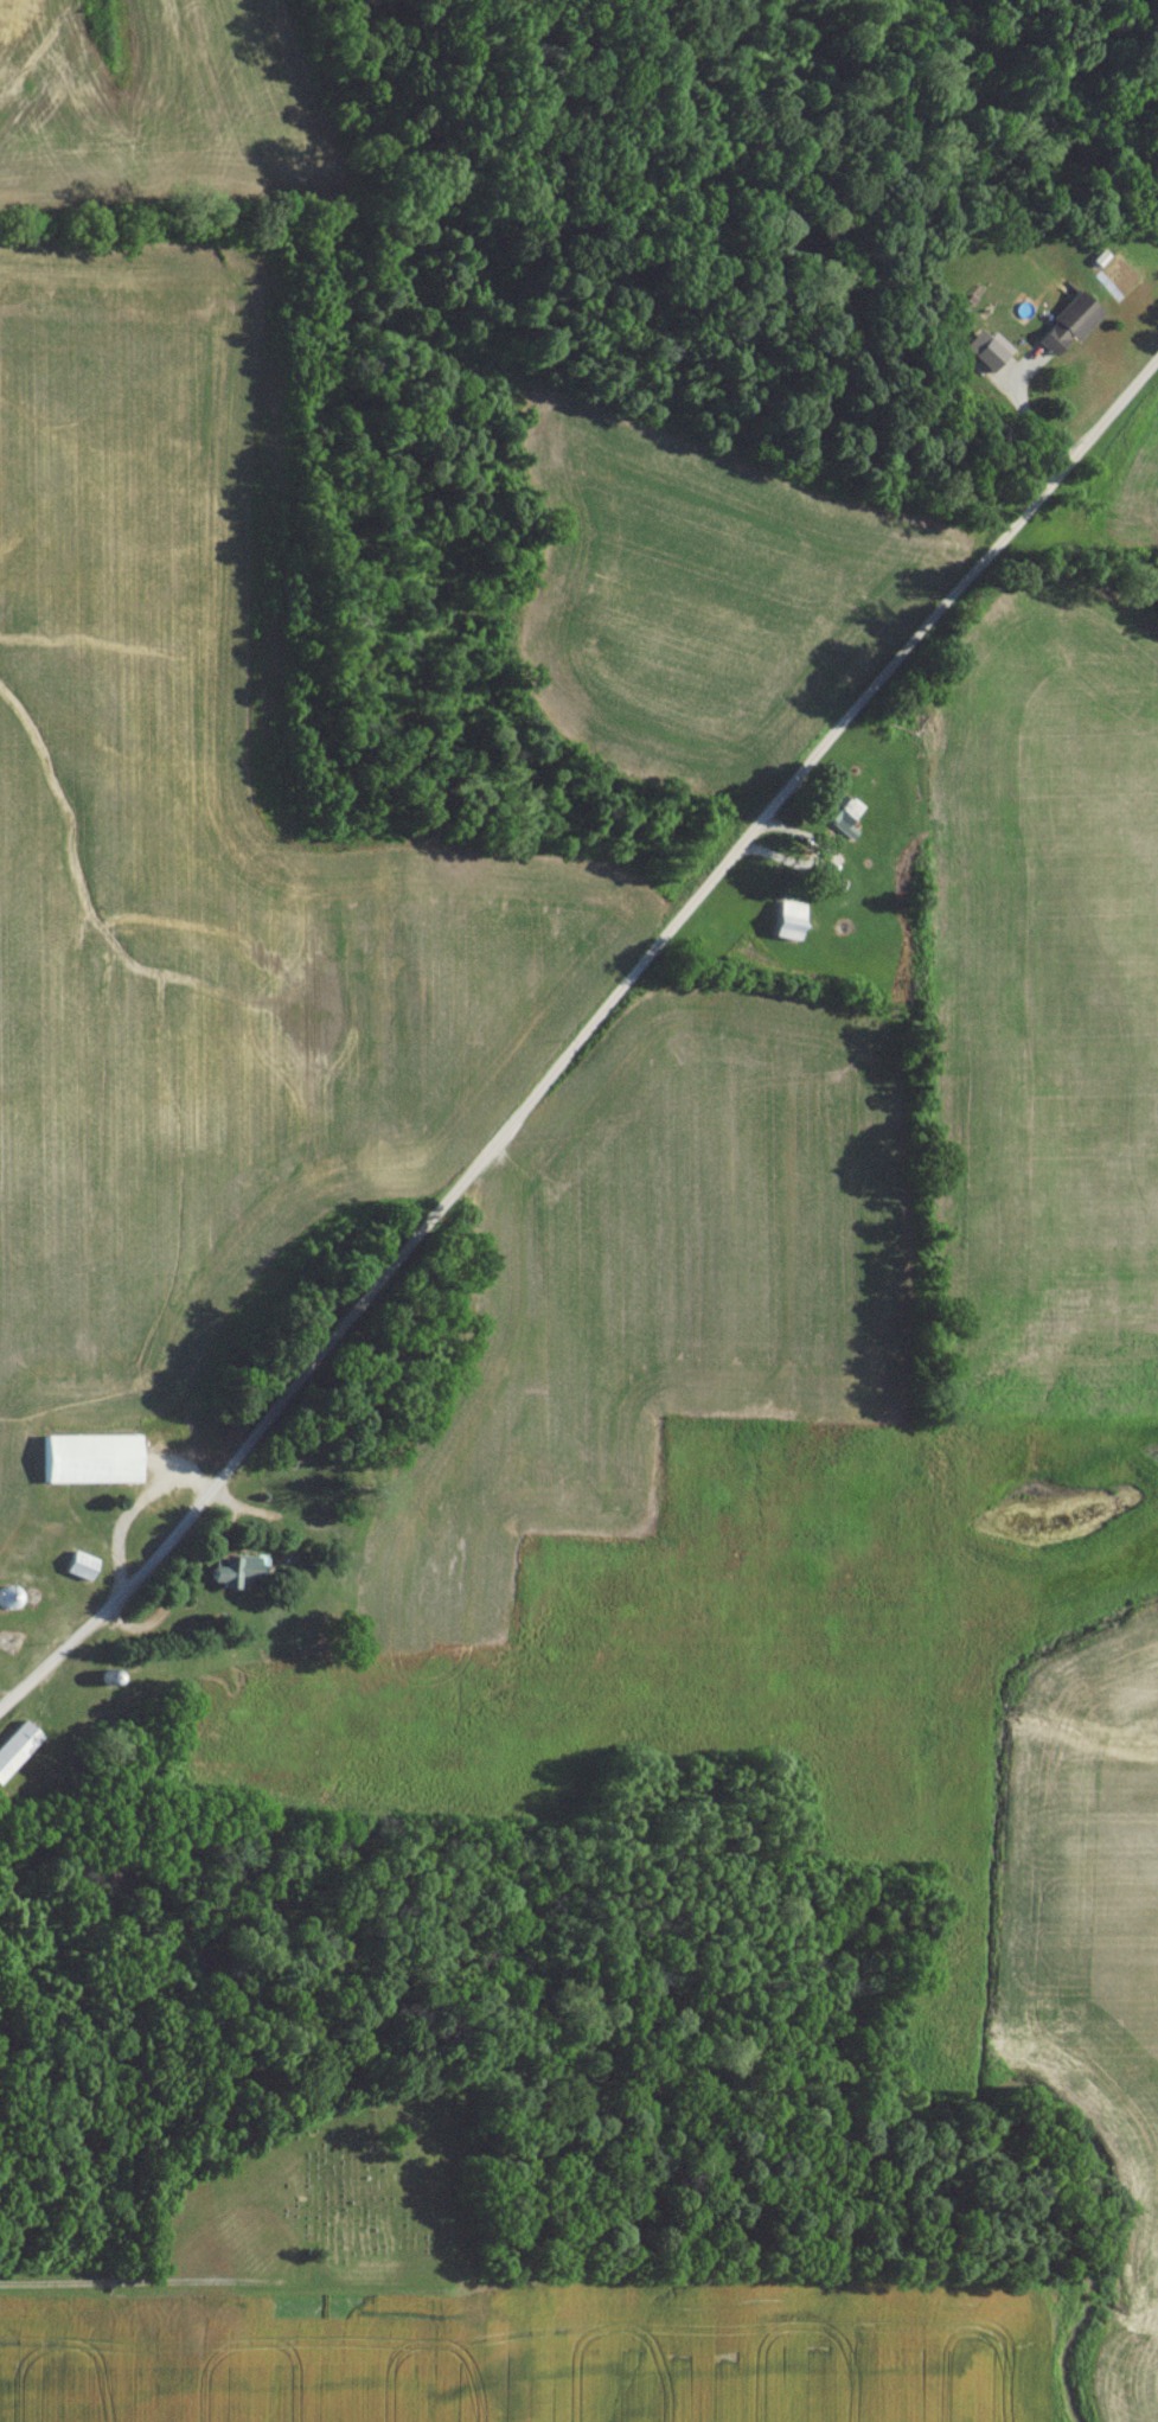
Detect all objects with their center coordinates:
building: (1060, 330)
building: (837, 819)
building: (780, 927)
road: (581, 1041)
building: (81, 1465)
building: (70, 1572)
building: (223, 1578)
building: (1, 1608)
building: (12, 1749)
road: (979, 2024)
road: (402, 2127)
road: (143, 2333)

